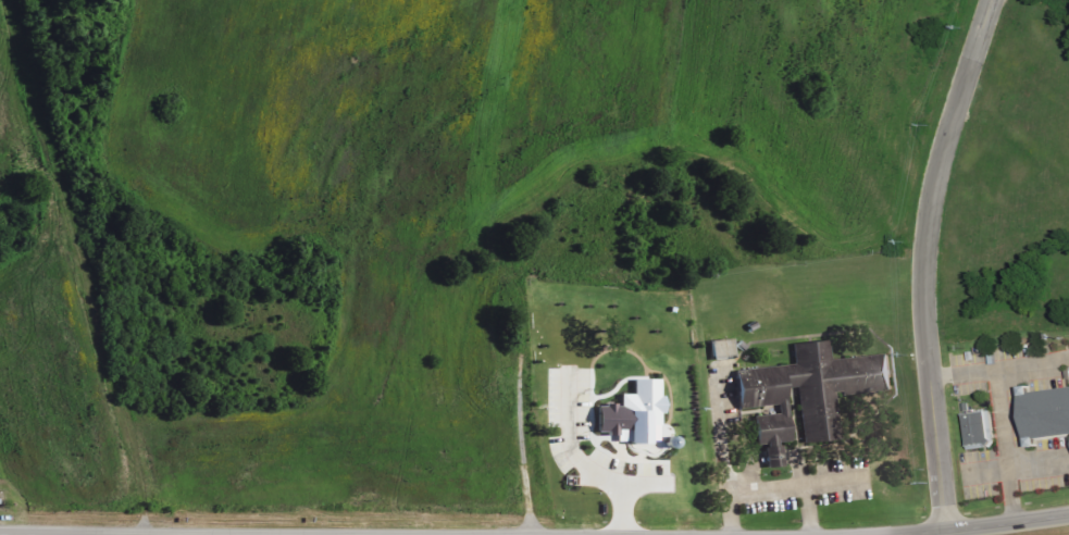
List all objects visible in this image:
road: (924, 263)
building: (722, 349)
road: (965, 375)
road: (998, 382)
building: (808, 391)
building: (633, 411)
building: (1045, 412)
building: (975, 415)
road: (724, 450)
road: (579, 462)
road: (1009, 464)
road: (985, 469)
road: (798, 483)
road: (622, 509)
road: (808, 509)
road: (1007, 525)

